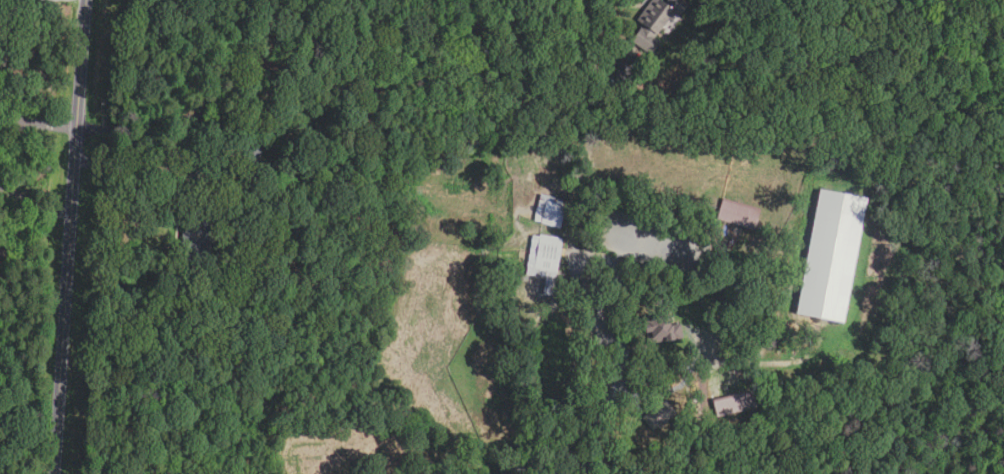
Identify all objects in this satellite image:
building: (12, 1)
road: (30, 6)
building: (653, 22)
road: (607, 43)
road: (332, 88)
road: (148, 154)
road: (7, 161)
building: (252, 165)
building: (550, 214)
building: (736, 214)
building: (195, 234)
road: (68, 236)
road: (596, 254)
building: (829, 255)
building: (544, 261)
building: (661, 329)
building: (734, 403)
road: (598, 414)

